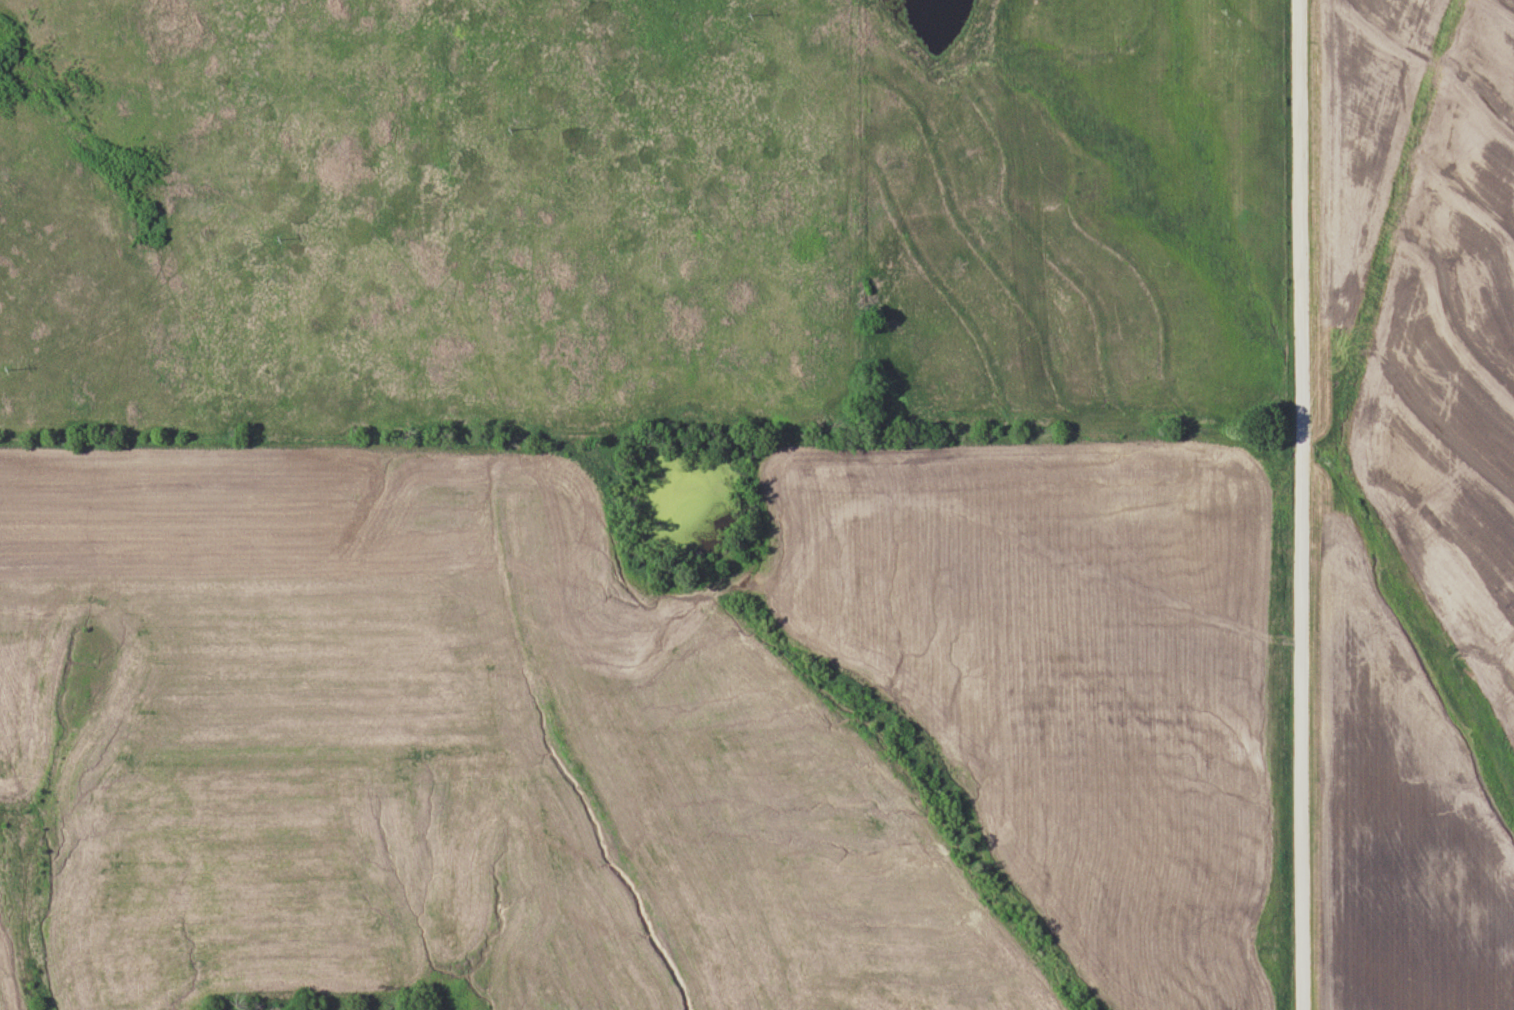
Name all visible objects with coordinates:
road: (1300, 504)

